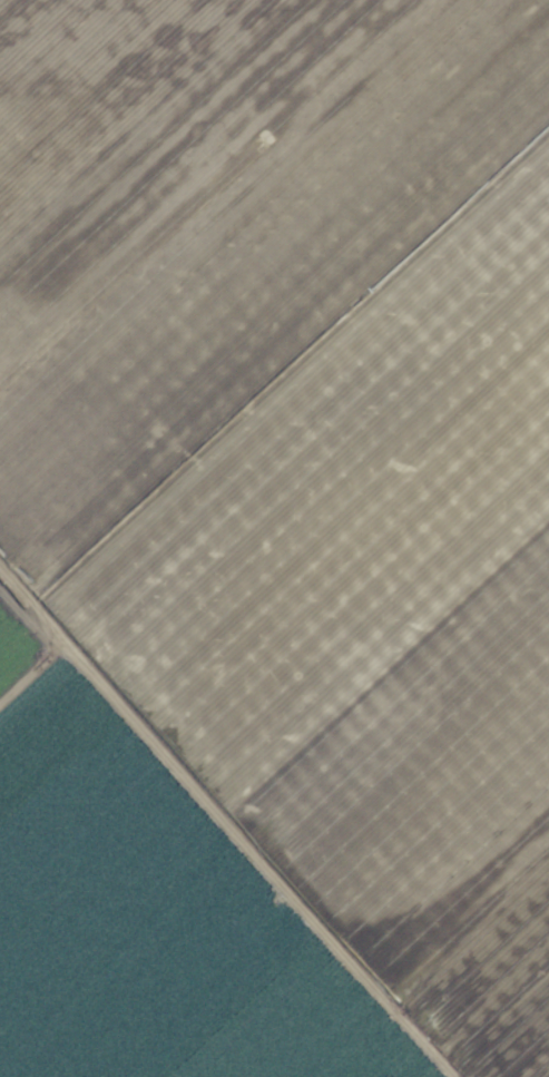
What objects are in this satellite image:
crop: (274, 538)

